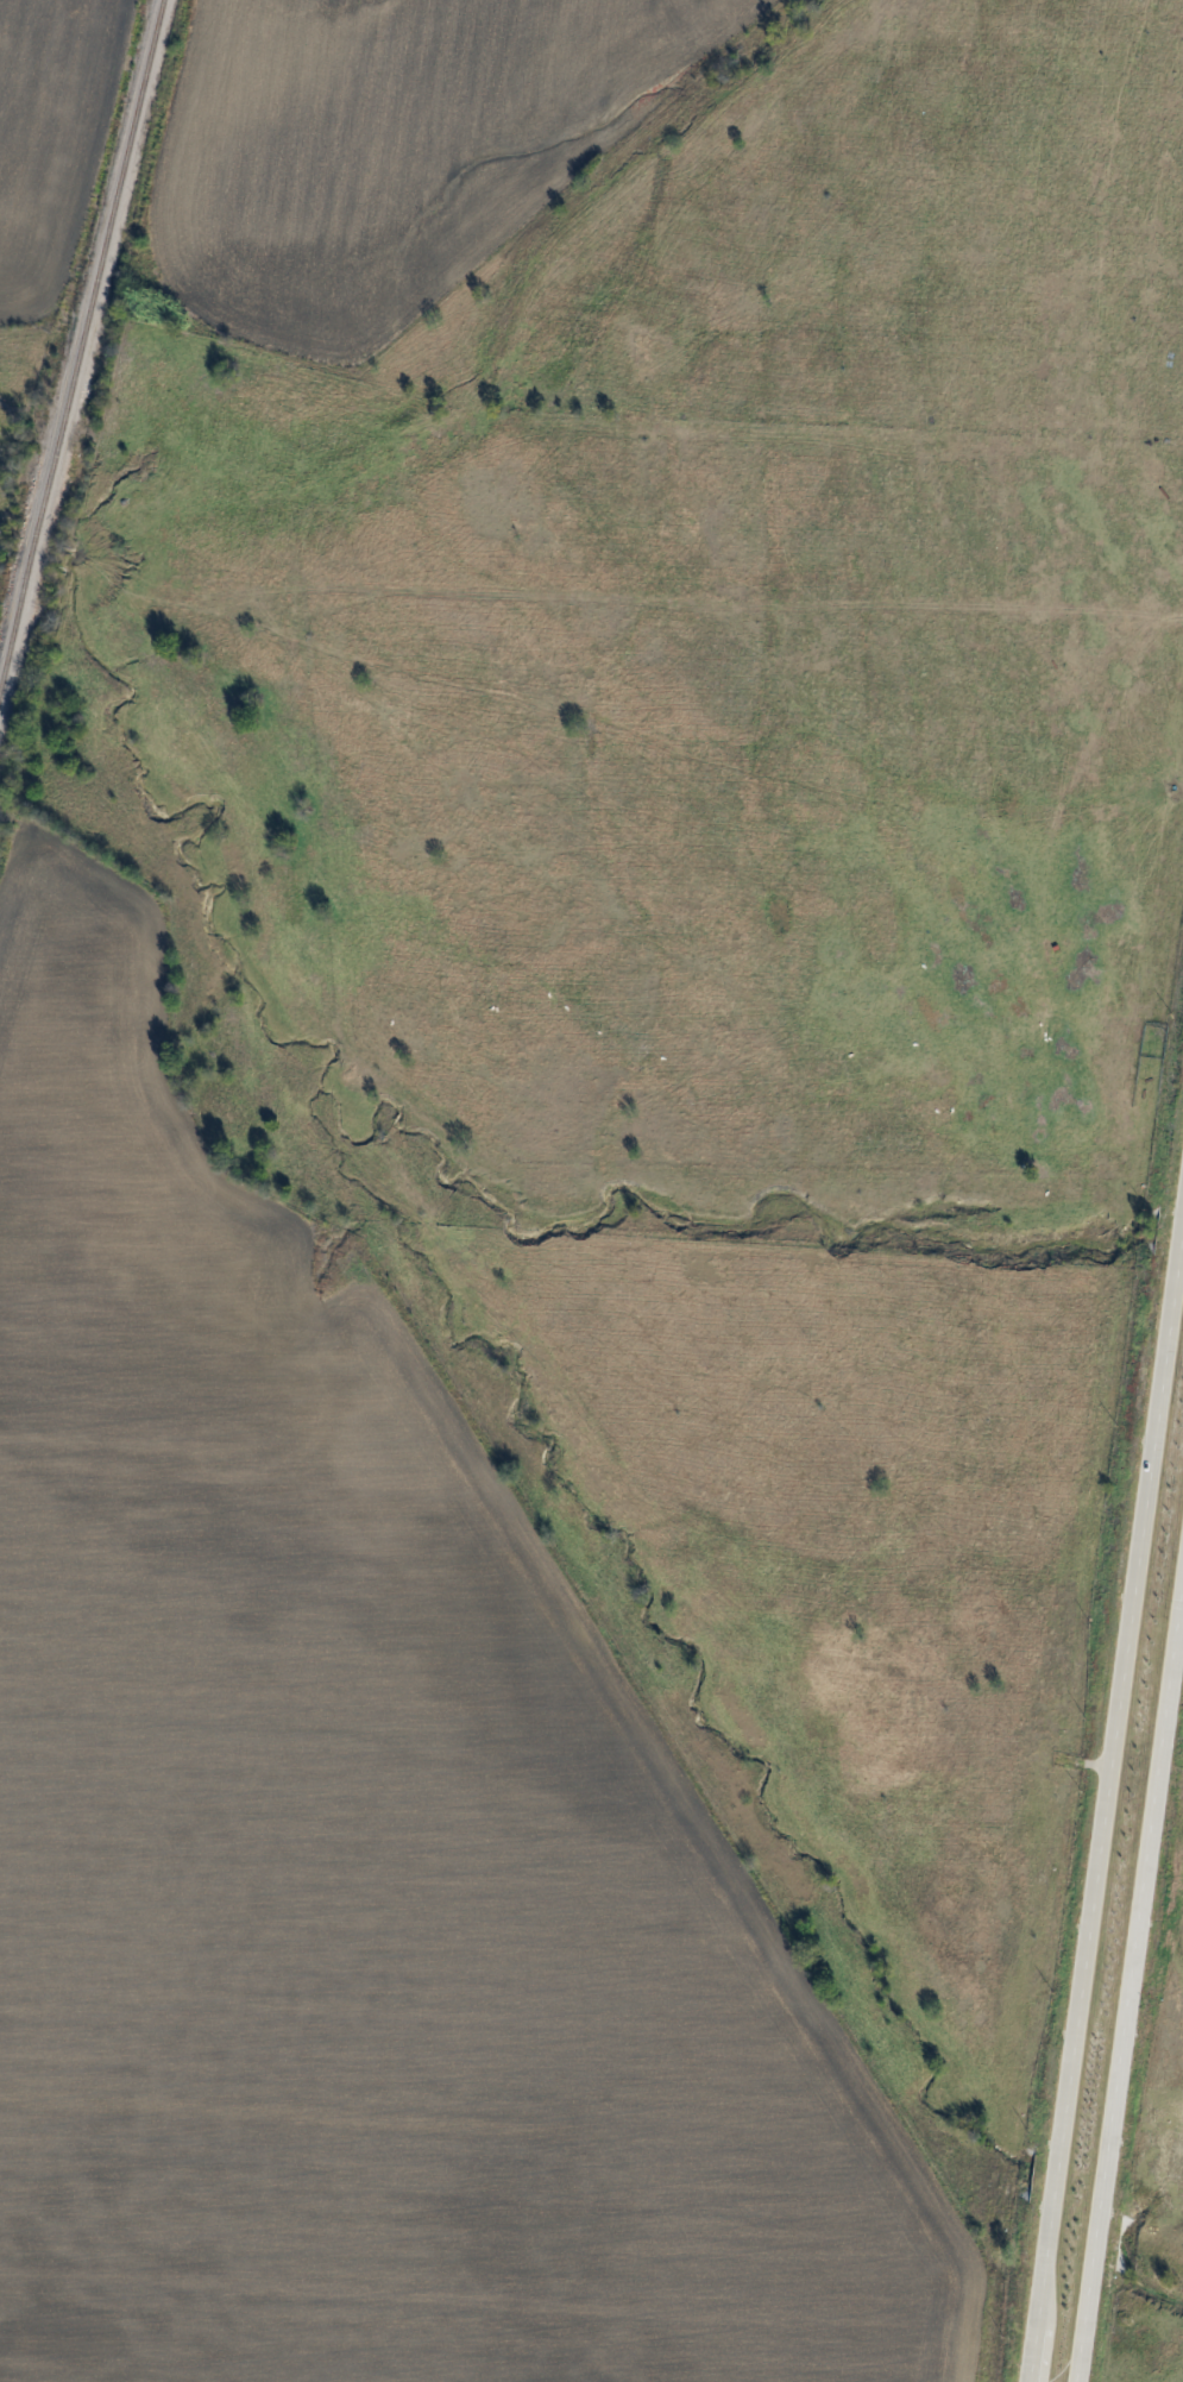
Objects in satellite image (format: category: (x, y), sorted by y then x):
railway: (82, 350)
road: (1102, 1779)
road: (1127, 1963)

